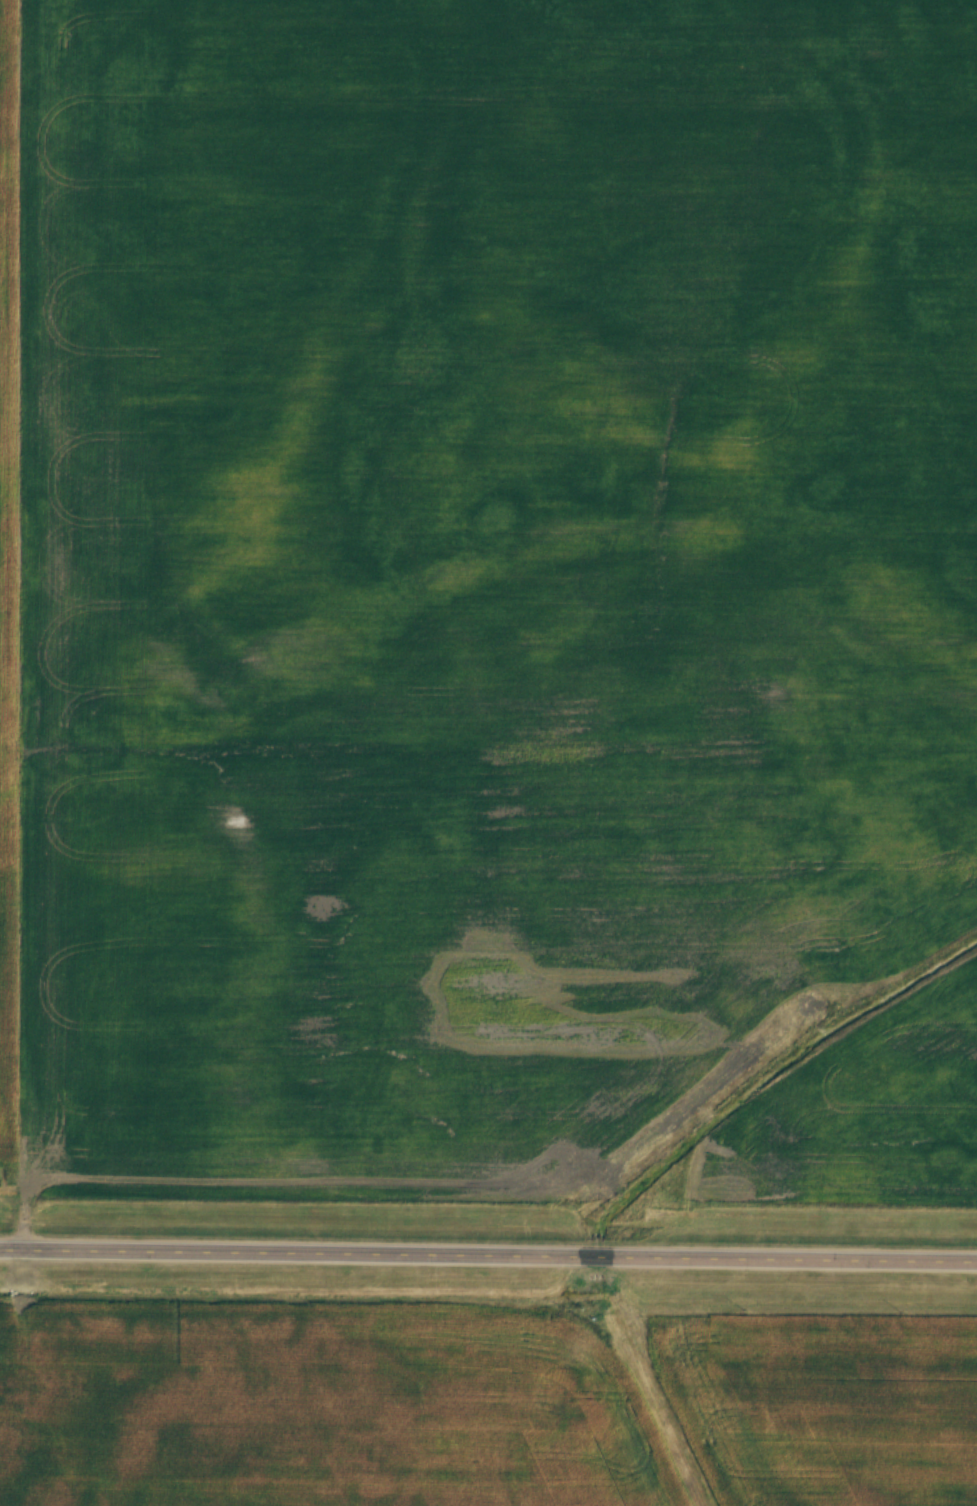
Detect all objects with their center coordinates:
road: (488, 1258)

